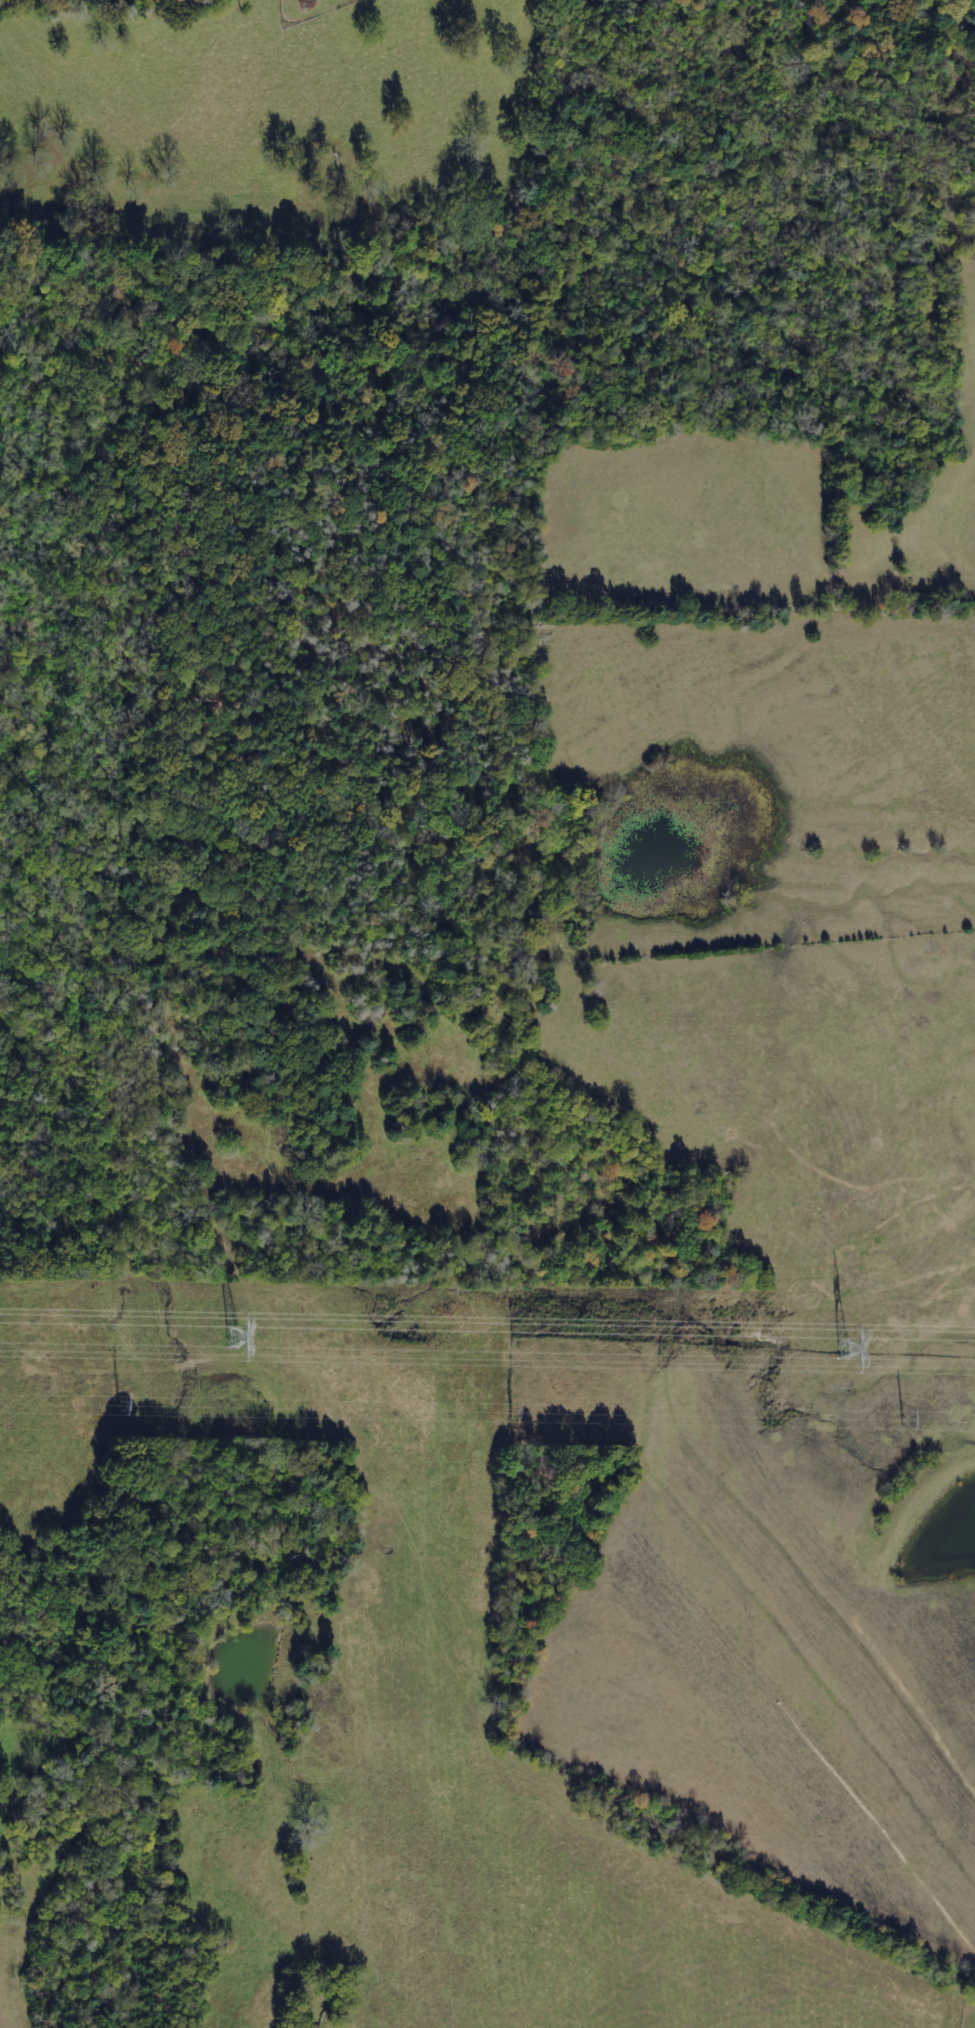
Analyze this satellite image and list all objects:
park: (308, 11)
power tower: (239, 1339)
power tower: (848, 1350)

